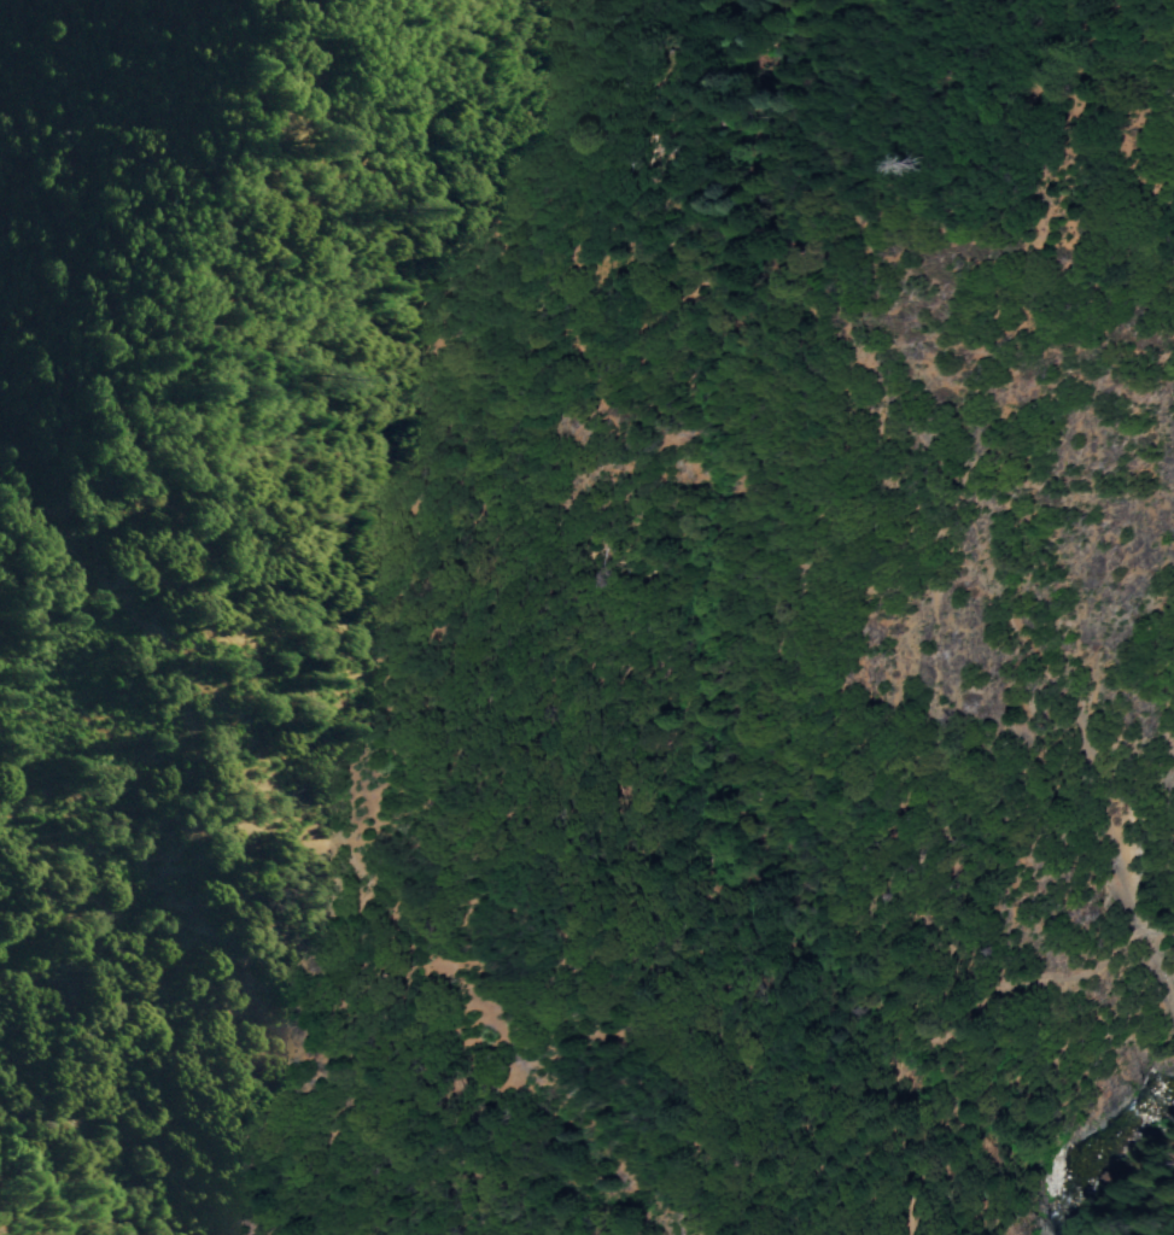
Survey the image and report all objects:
river: (1093, 1149)

